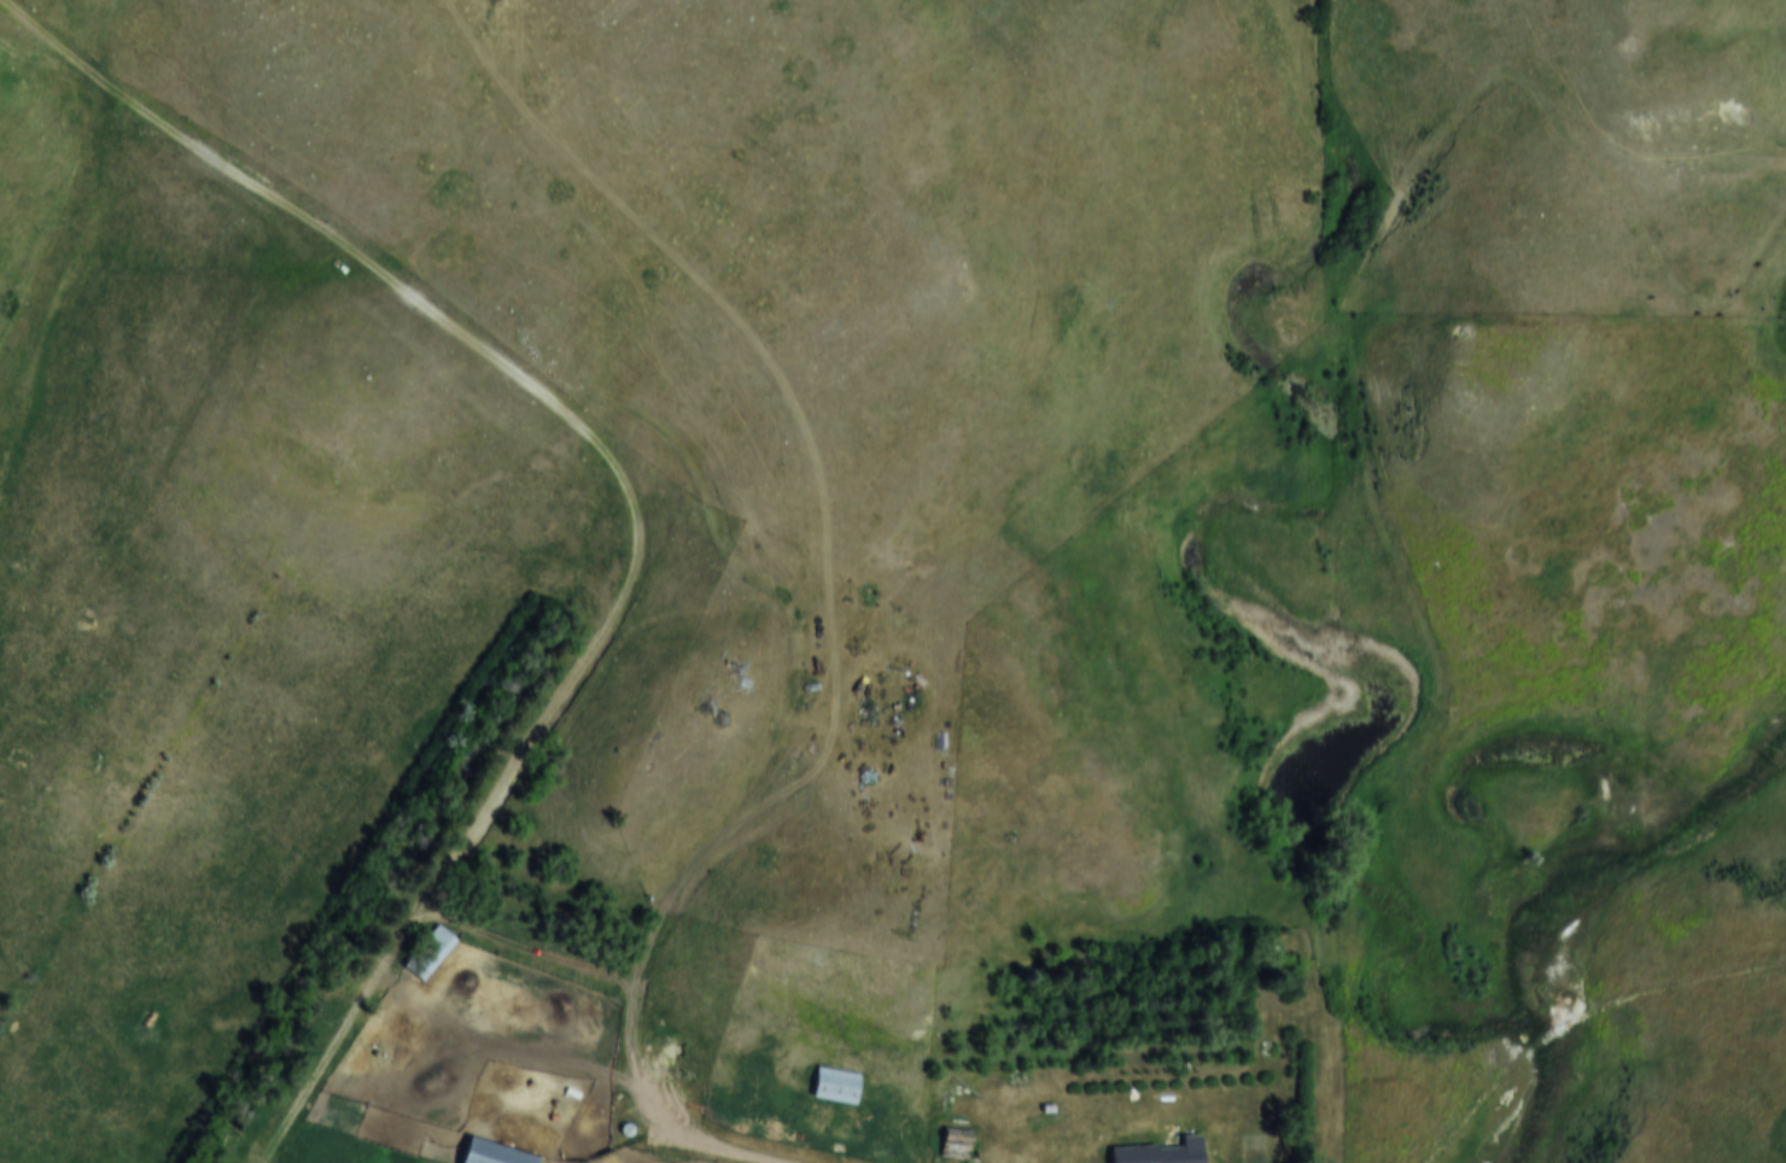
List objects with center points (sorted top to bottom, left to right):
road: (638, 515)
building: (428, 952)
building: (835, 1085)
building: (955, 1142)
road: (723, 1147)
building: (1180, 1151)
building: (492, 1153)

